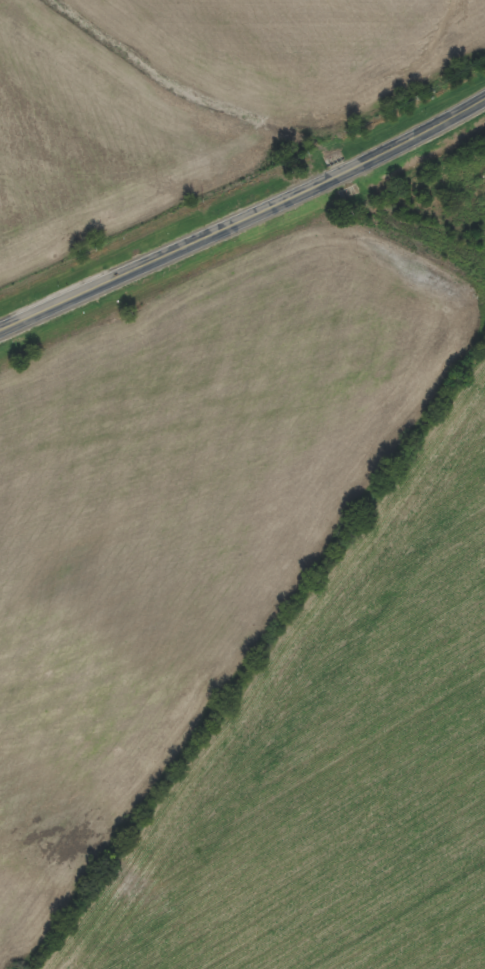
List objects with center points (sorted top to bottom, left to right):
road: (245, 218)

